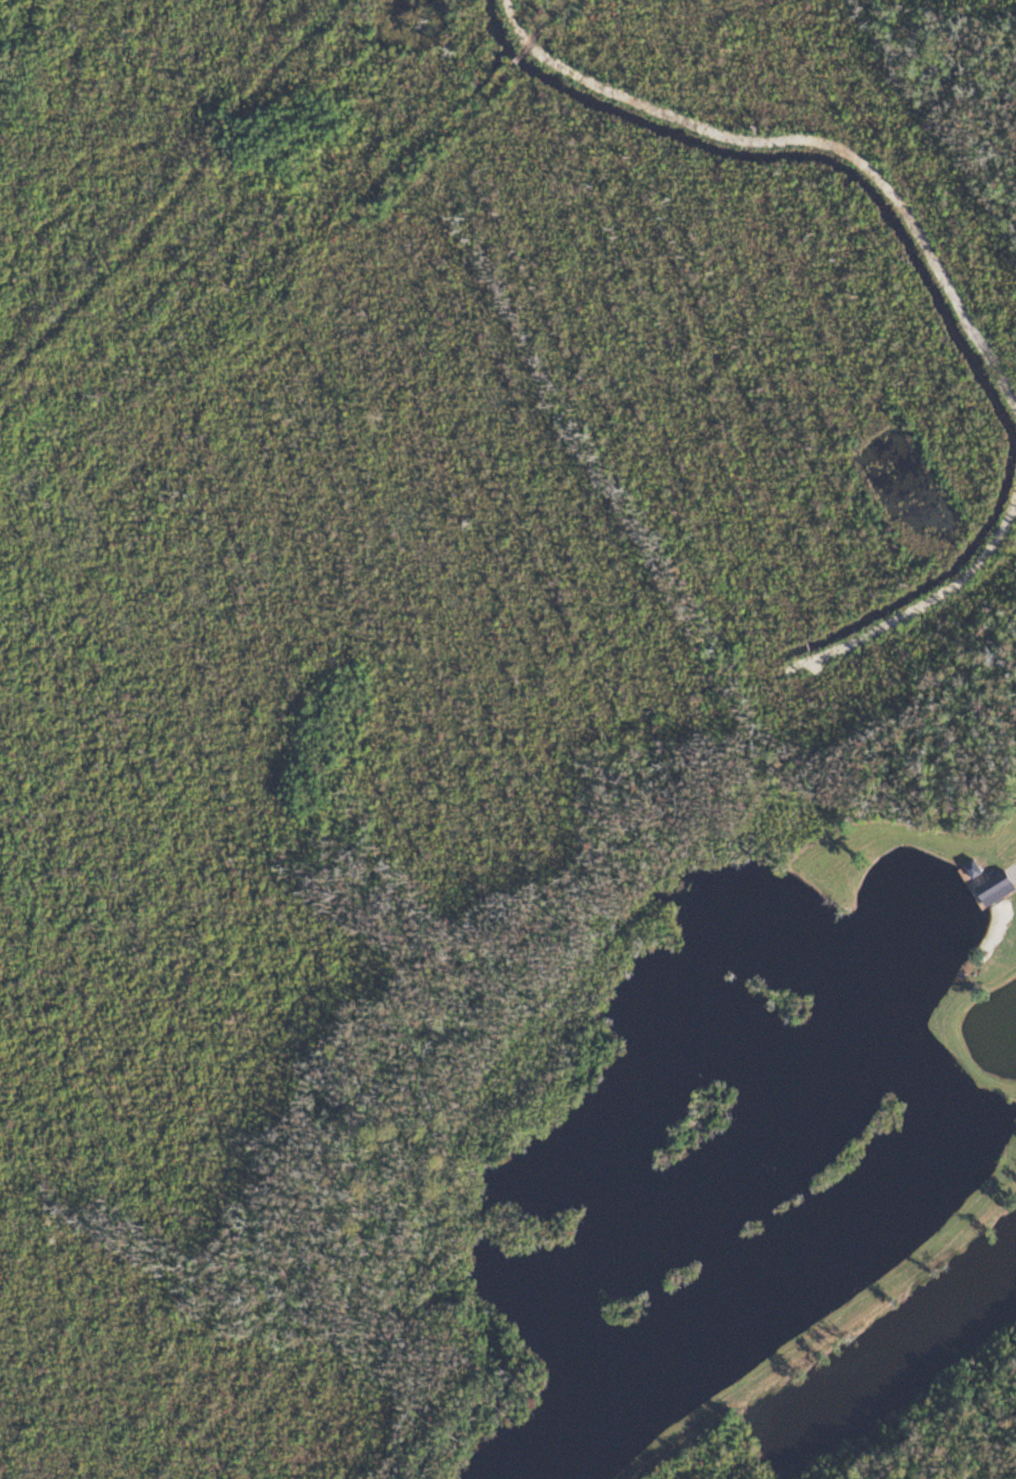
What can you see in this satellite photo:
building: (986, 885)

